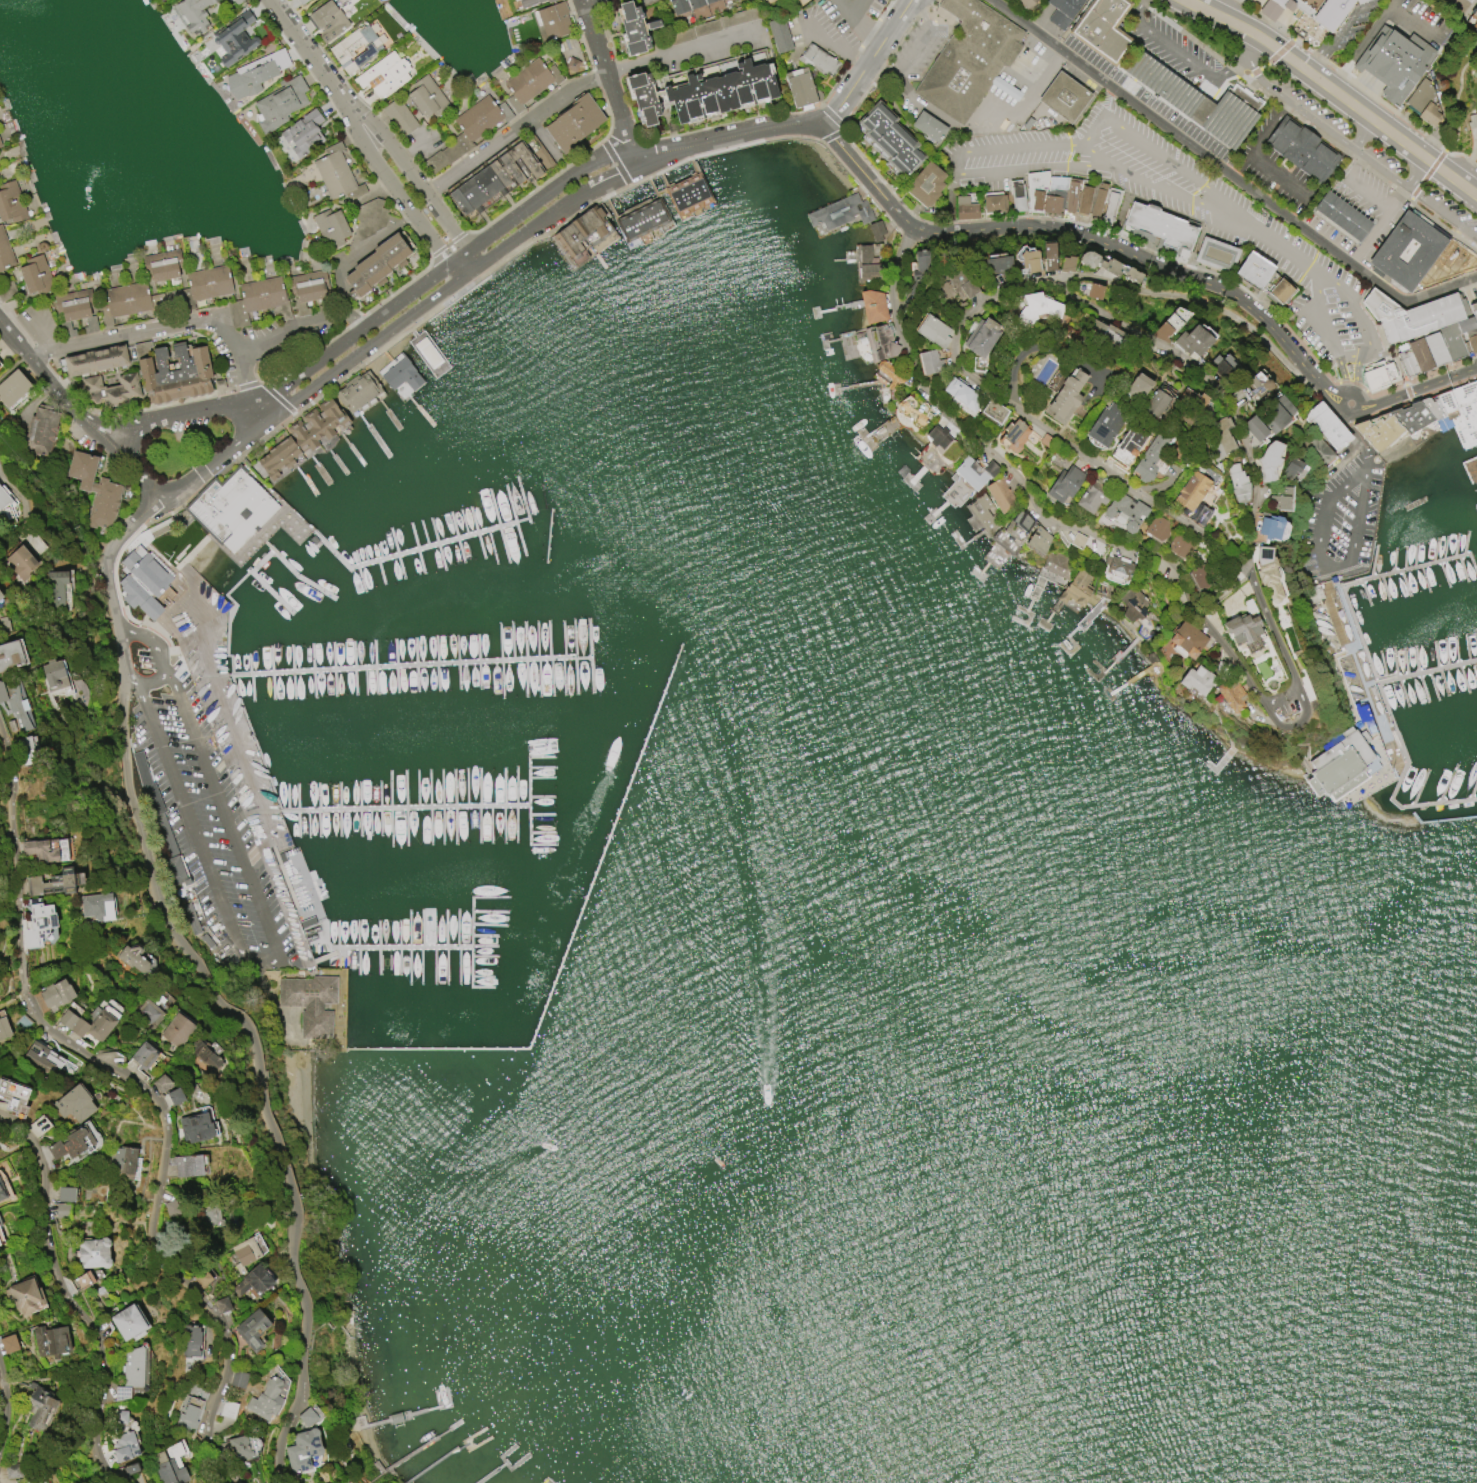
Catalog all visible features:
building: (547, 0)
building: (236, 1)
building: (301, 1)
road: (1358, 2)
building: (526, 3)
road: (594, 3)
building: (1023, 4)
building: (685, 5)
road: (1457, 5)
road: (853, 6)
building: (1318, 10)
building: (1062, 11)
road: (1209, 11)
building: (193, 14)
building: (1474, 18)
building: (328, 19)
building: (551, 21)
road: (858, 22)
road: (1374, 22)
building: (634, 28)
building: (1101, 28)
building: (1476, 33)
building: (778, 35)
road: (1331, 37)
building: (233, 38)
road: (1241, 40)
road: (1271, 45)
building: (354, 48)
road: (829, 48)
road: (674, 51)
road: (911, 53)
road: (1121, 54)
road: (1177, 54)
railway: (1398, 54)
road: (313, 56)
building: (967, 58)
building: (817, 60)
building: (1393, 61)
building: (571, 64)
building: (255, 72)
building: (383, 74)
road: (608, 78)
road: (1317, 79)
building: (528, 82)
building: (800, 88)
building: (720, 90)
building: (643, 96)
road: (1025, 96)
building: (427, 97)
building: (1063, 97)
road: (1106, 100)
building: (1190, 100)
building: (280, 102)
building: (1423, 102)
road: (1350, 103)
road: (1294, 107)
building: (399, 117)
building: (573, 123)
road: (804, 125)
building: (928, 126)
road: (513, 128)
road: (1093, 130)
building: (467, 131)
road: (1362, 134)
building: (300, 135)
building: (890, 138)
road: (1398, 138)
road: (1453, 142)
building: (0, 144)
building: (0, 145)
building: (1301, 149)
road: (1357, 153)
road: (1249, 154)
road: (956, 167)
road: (1383, 171)
road: (1414, 172)
building: (335, 173)
building: (501, 173)
road: (864, 175)
road: (1228, 175)
road: (1450, 176)
road: (413, 177)
building: (924, 184)
building: (1035, 189)
road: (394, 193)
building: (687, 194)
building: (1054, 194)
building: (1070, 195)
building: (1016, 197)
building: (1083, 199)
building: (1097, 199)
building: (10, 202)
building: (994, 203)
building: (481, 206)
building: (1110, 206)
parking lot: (1178, 207)
road: (1380, 207)
building: (965, 208)
building: (840, 212)
road: (1440, 213)
building: (1340, 216)
building: (368, 217)
building: (640, 219)
building: (1159, 226)
building: (330, 227)
building: (875, 230)
building: (580, 231)
road: (1258, 234)
building: (1416, 252)
building: (1216, 254)
road: (355, 256)
building: (1048, 256)
road: (1147, 259)
building: (1028, 261)
road: (463, 263)
building: (997, 263)
building: (1065, 263)
building: (162, 264)
building: (376, 264)
building: (868, 264)
road: (442, 265)
building: (1108, 266)
building: (4, 267)
building: (1253, 269)
building: (35, 274)
building: (208, 282)
building: (956, 286)
building: (307, 289)
building: (1279, 289)
building: (1093, 291)
building: (127, 298)
building: (257, 299)
building: (872, 306)
building: (1038, 307)
building: (74, 310)
building: (1474, 311)
road: (1355, 312)
road: (181, 324)
road: (300, 325)
road: (397, 325)
building: (1166, 327)
building: (1424, 329)
building: (932, 330)
road: (1327, 330)
building: (1105, 333)
road: (40, 334)
pier: (415, 336)
building: (981, 336)
building: (1192, 340)
building: (879, 341)
building: (429, 355)
building: (95, 359)
building: (928, 361)
building: (1221, 364)
building: (0, 366)
building: (172, 372)
road: (1354, 372)
building: (399, 373)
building: (1376, 373)
road: (964, 377)
road: (49, 379)
building: (1257, 385)
building: (1136, 386)
building: (13, 387)
road: (1416, 387)
road: (1213, 388)
building: (111, 389)
building: (357, 392)
building: (962, 395)
road: (1350, 395)
building: (1065, 397)
building: (1190, 399)
building: (1156, 401)
building: (993, 411)
road: (174, 414)
building: (1276, 414)
building: (1425, 418)
building: (1105, 423)
building: (1326, 424)
building: (1254, 428)
building: (40, 431)
pier: (1466, 432)
building: (1012, 434)
building: (1218, 436)
building: (301, 437)
building: (942, 443)
building: (1126, 445)
building: (1318, 449)
building: (1149, 458)
building: (1268, 459)
road: (127, 467)
pier: (1470, 468)
building: (1294, 469)
building: (974, 472)
building: (1064, 483)
building: (1236, 483)
pier: (1476, 484)
road: (1343, 487)
building: (93, 489)
building: (1190, 490)
building: (999, 494)
building: (1092, 496)
building: (1281, 499)
building: (6, 506)
building: (230, 507)
building: (1124, 511)
building: (982, 514)
road: (1048, 518)
parking lot: (1344, 521)
building: (1269, 526)
building: (1156, 527)
road: (1353, 529)
building: (1012, 531)
building: (1037, 539)
building: (1077, 540)
building: (1179, 546)
pier: (385, 559)
building: (20, 562)
pier: (282, 562)
building: (1117, 566)
pier: (1420, 566)
building: (1267, 572)
building: (1200, 578)
pier: (263, 585)
building: (1076, 587)
building: (58, 589)
building: (1104, 593)
building: (1, 595)
building: (1132, 604)
building: (1242, 631)
building: (1185, 640)
building: (10, 655)
road: (158, 657)
pier: (409, 668)
pier: (1427, 670)
building: (53, 675)
building: (1195, 679)
building: (1231, 694)
building: (14, 707)
building: (27, 750)
building: (1341, 765)
pier: (1421, 805)
pier: (404, 808)
parking lot: (208, 819)
pier: (1417, 820)
building: (46, 850)
building: (54, 882)
building: (97, 906)
building: (38, 923)
pier: (575, 935)
pier: (474, 942)
pier: (407, 949)
building: (132, 958)
road: (264, 960)
road: (205, 986)
building: (56, 993)
building: (310, 1003)
building: (147, 1013)
building: (88, 1024)
building: (4, 1028)
building: (177, 1030)
building: (143, 1055)
building: (203, 1055)
building: (40, 1057)
building: (162, 1082)
road: (144, 1096)
building: (175, 1096)
building: (14, 1098)
building: (74, 1104)
building: (196, 1127)
building: (73, 1144)
building: (122, 1161)
building: (188, 1165)
building: (2, 1192)
building: (66, 1194)
building: (62, 1209)
building: (171, 1209)
building: (208, 1215)
building: (0, 1224)
building: (1, 1239)
building: (94, 1253)
building: (244, 1253)
building: (202, 1278)
building: (83, 1281)
building: (253, 1282)
building: (24, 1294)
road: (63, 1299)
building: (222, 1305)
building: (128, 1322)
building: (252, 1329)
building: (7, 1340)
building: (191, 1341)
building: (52, 1342)
building: (131, 1372)
building: (238, 1379)
building: (266, 1399)
building: (39, 1407)
road: (6, 1414)
building: (188, 1414)
building: (120, 1416)
building: (307, 1417)
building: (123, 1446)
building: (239, 1448)
building: (303, 1450)
building: (130, 1469)
building: (167, 1470)
building: (12, 1471)

